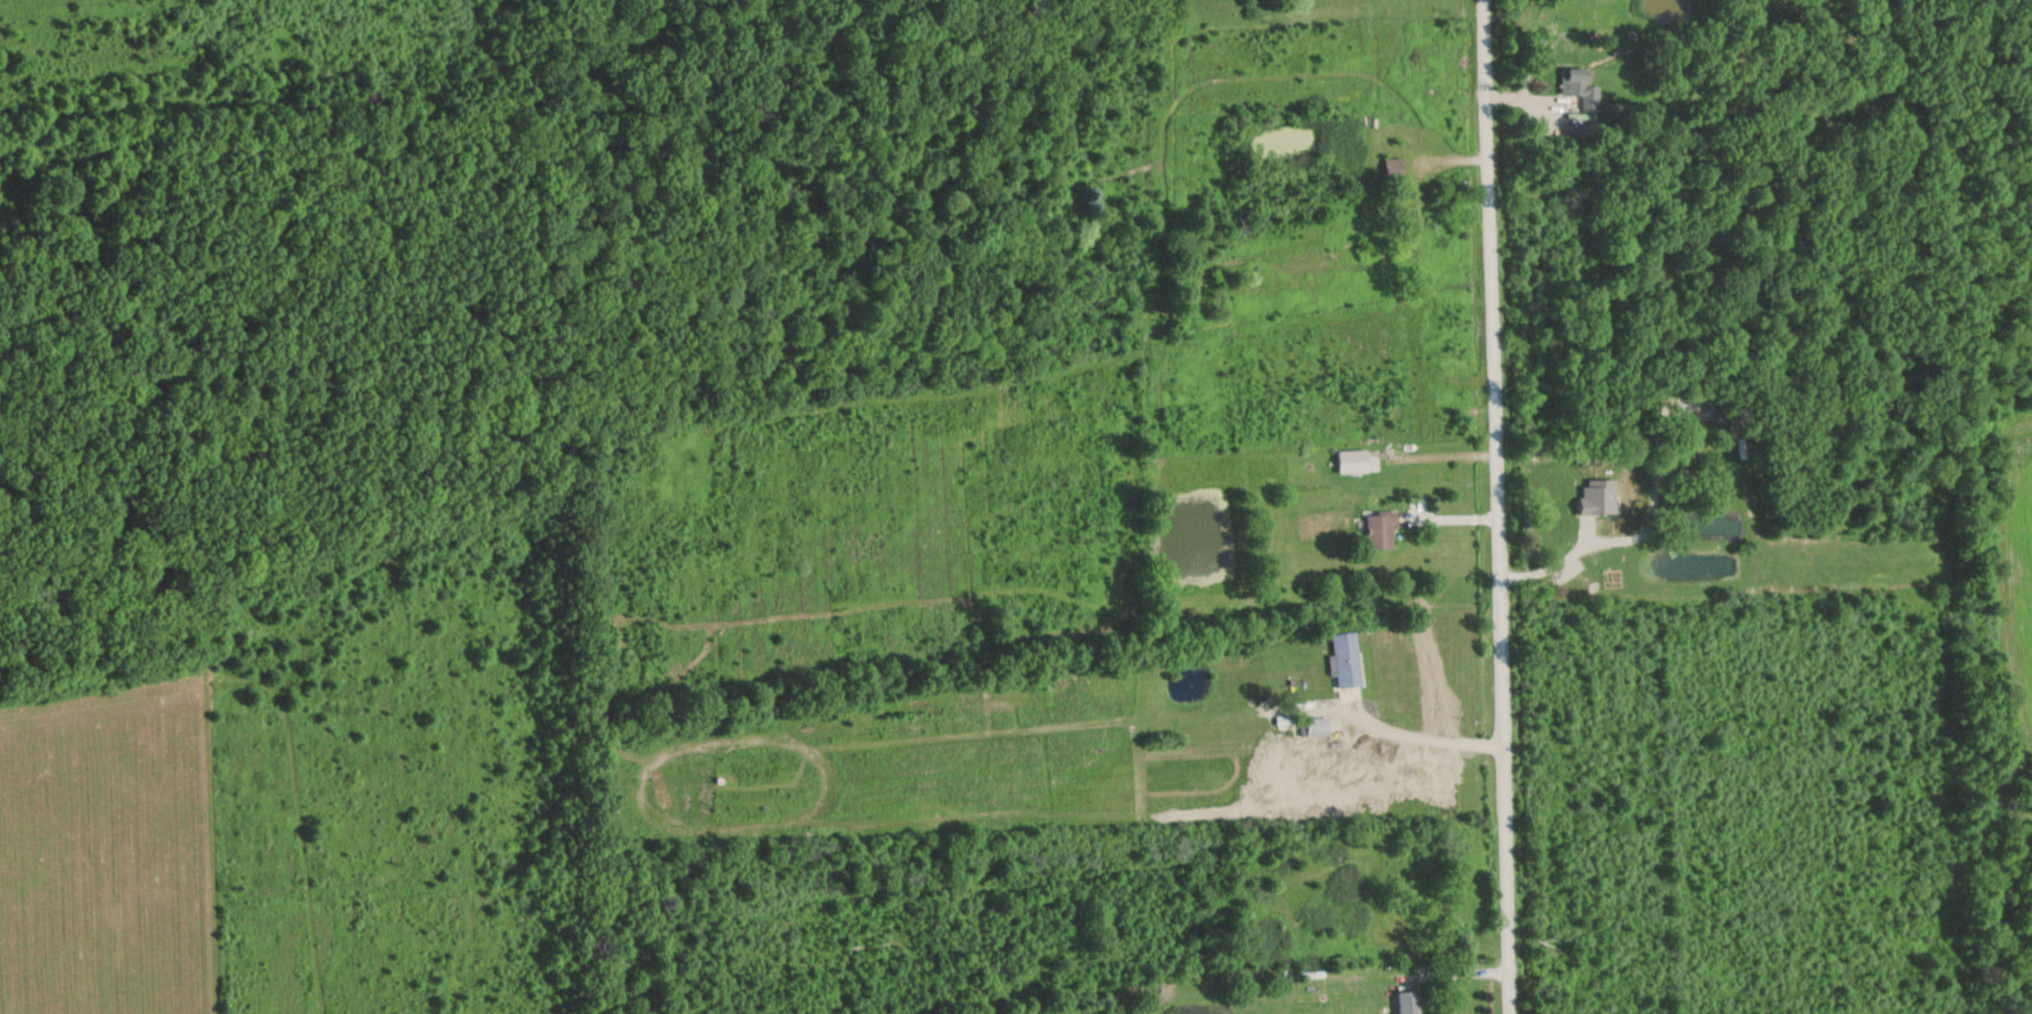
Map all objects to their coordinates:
building: (1577, 89)
building: (1390, 170)
road: (112, 343)
building: (1349, 463)
building: (1594, 498)
road: (1491, 506)
building: (1378, 532)
road: (1564, 560)
building: (1343, 661)
road: (195, 712)
building: (1280, 720)
building: (1311, 728)
road: (1422, 738)
building: (1406, 1003)

